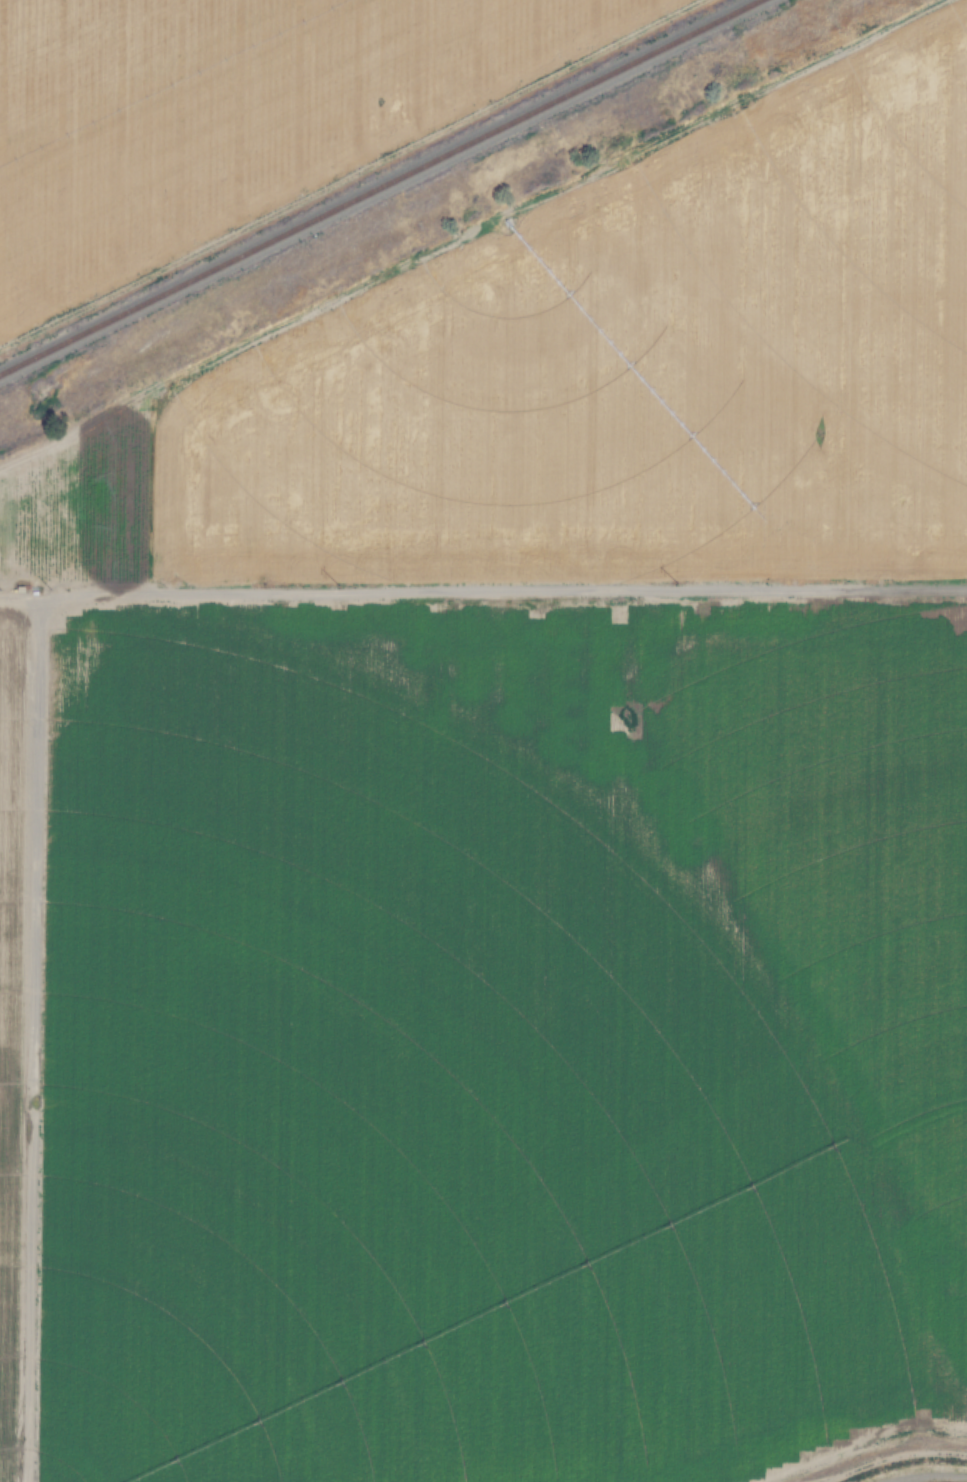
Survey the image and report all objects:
crop: (236, 117)
railway: (397, 189)
road: (483, 587)

